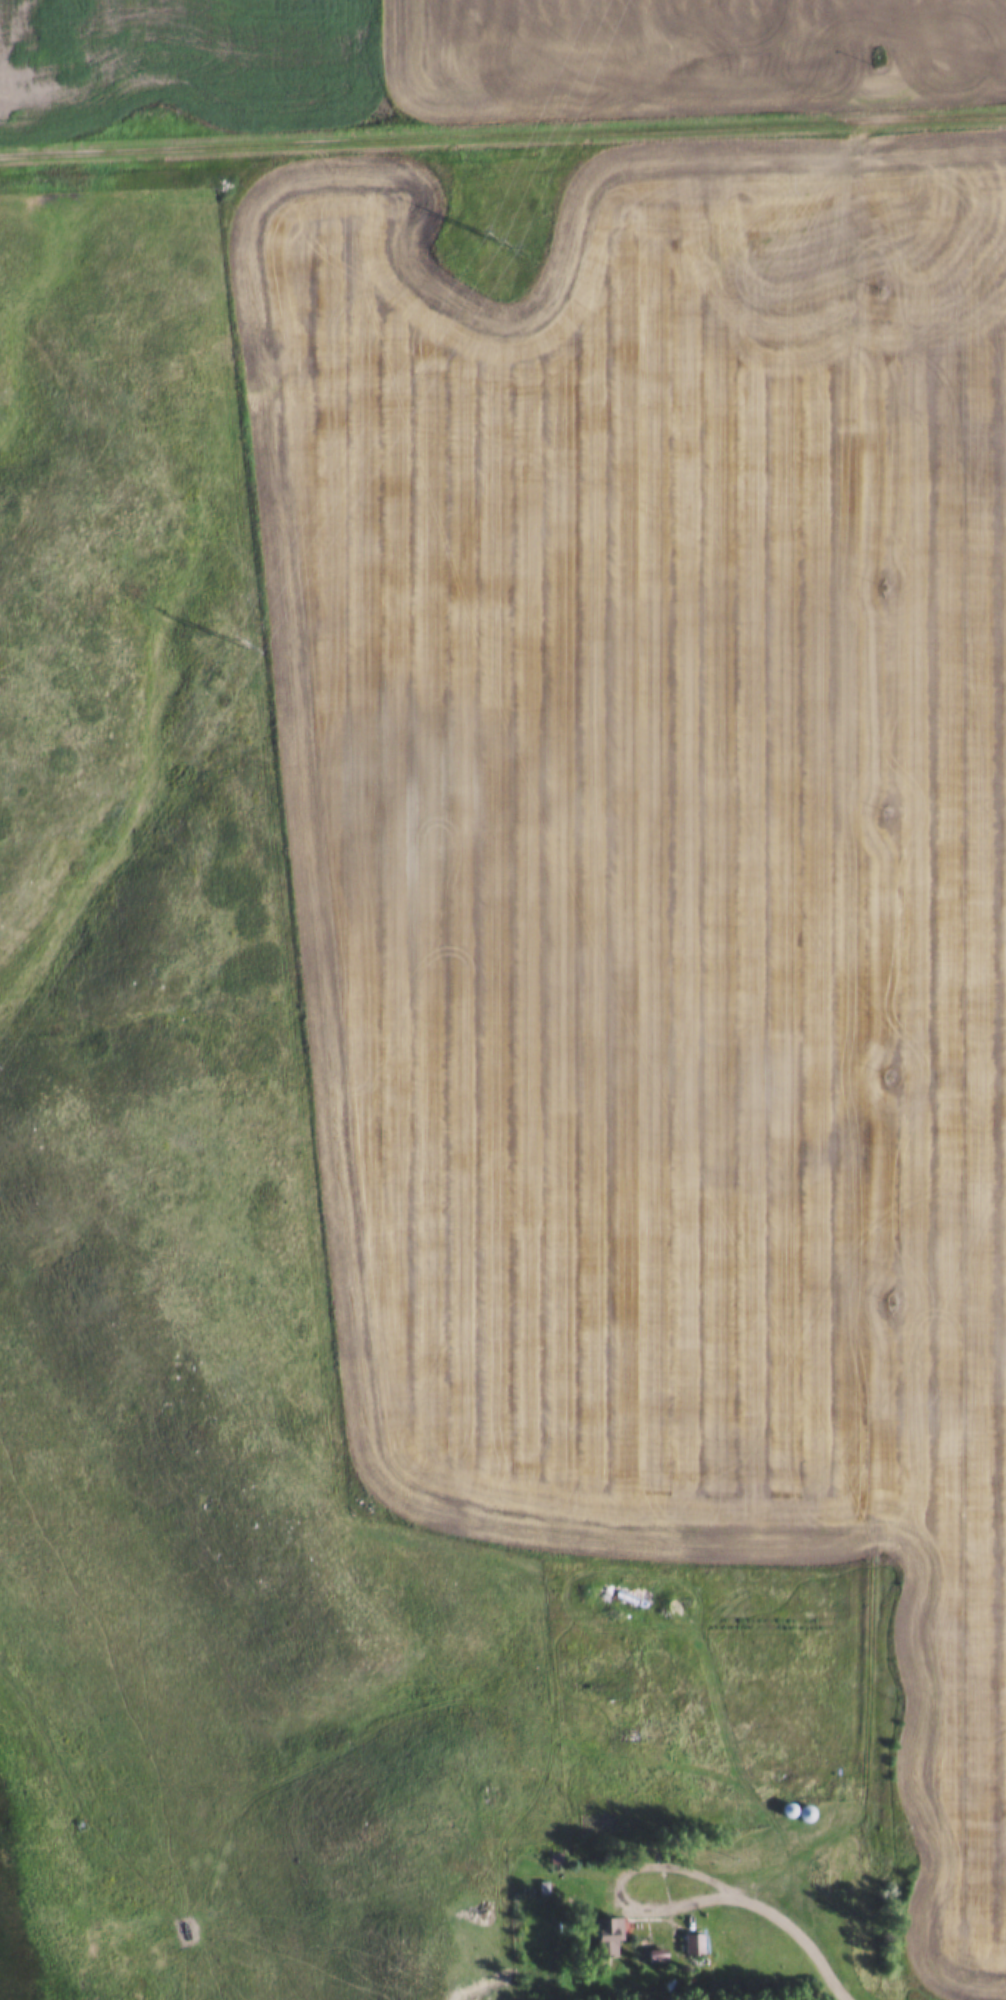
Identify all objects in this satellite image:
road: (502, 132)
power tower: (490, 234)
power tower: (235, 639)
road: (874, 1062)
building: (788, 1810)
building: (806, 1812)
road: (614, 1881)
building: (609, 1935)
road: (804, 1936)
building: (693, 1943)
building: (649, 1953)

